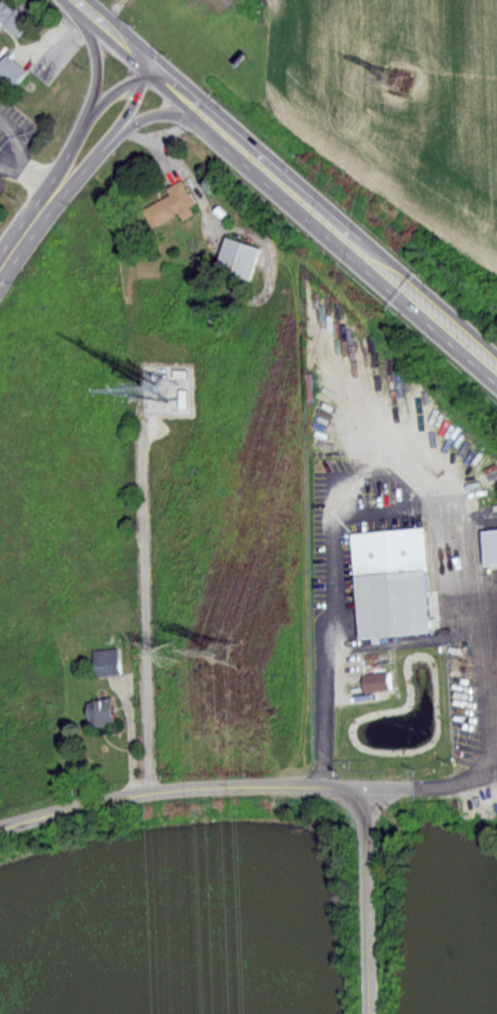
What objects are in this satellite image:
road: (114, 34)
road: (95, 58)
power tower: (408, 78)
crop: (397, 102)
road: (164, 113)
road: (88, 114)
road: (114, 135)
road: (16, 149)
road: (38, 175)
road: (323, 220)
road: (29, 225)
road: (332, 541)
road: (463, 590)
road: (483, 624)
road: (396, 643)
power tower: (226, 651)
power tower: (164, 653)
road: (129, 739)
road: (246, 785)
road: (367, 901)

